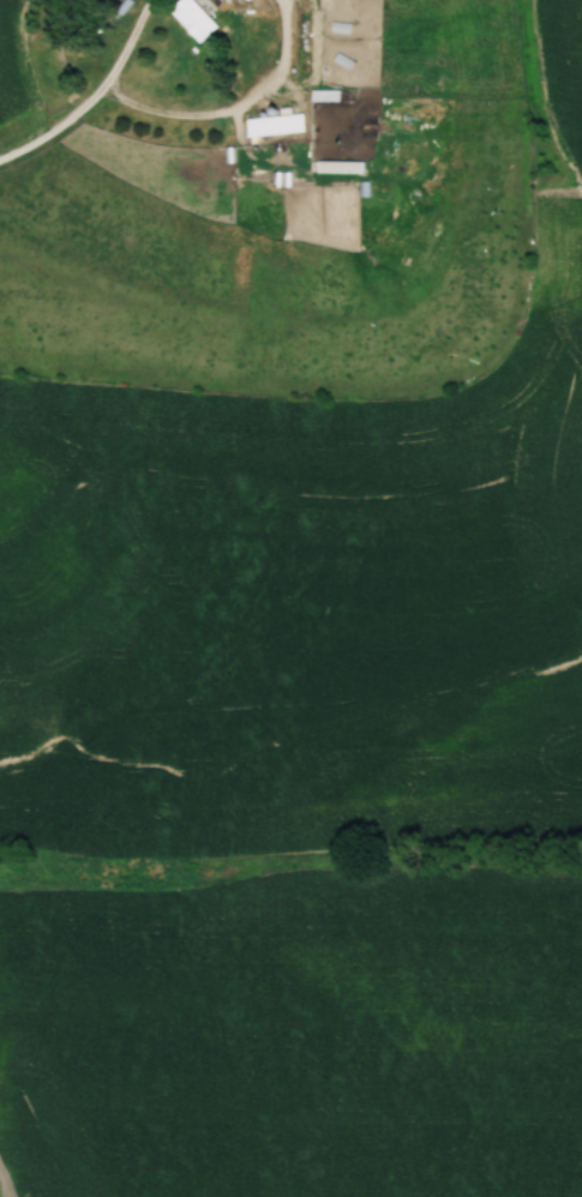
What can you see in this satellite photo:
building: (191, 18)
road: (131, 43)
building: (324, 96)
road: (233, 110)
building: (274, 125)
road: (58, 130)
building: (337, 167)

